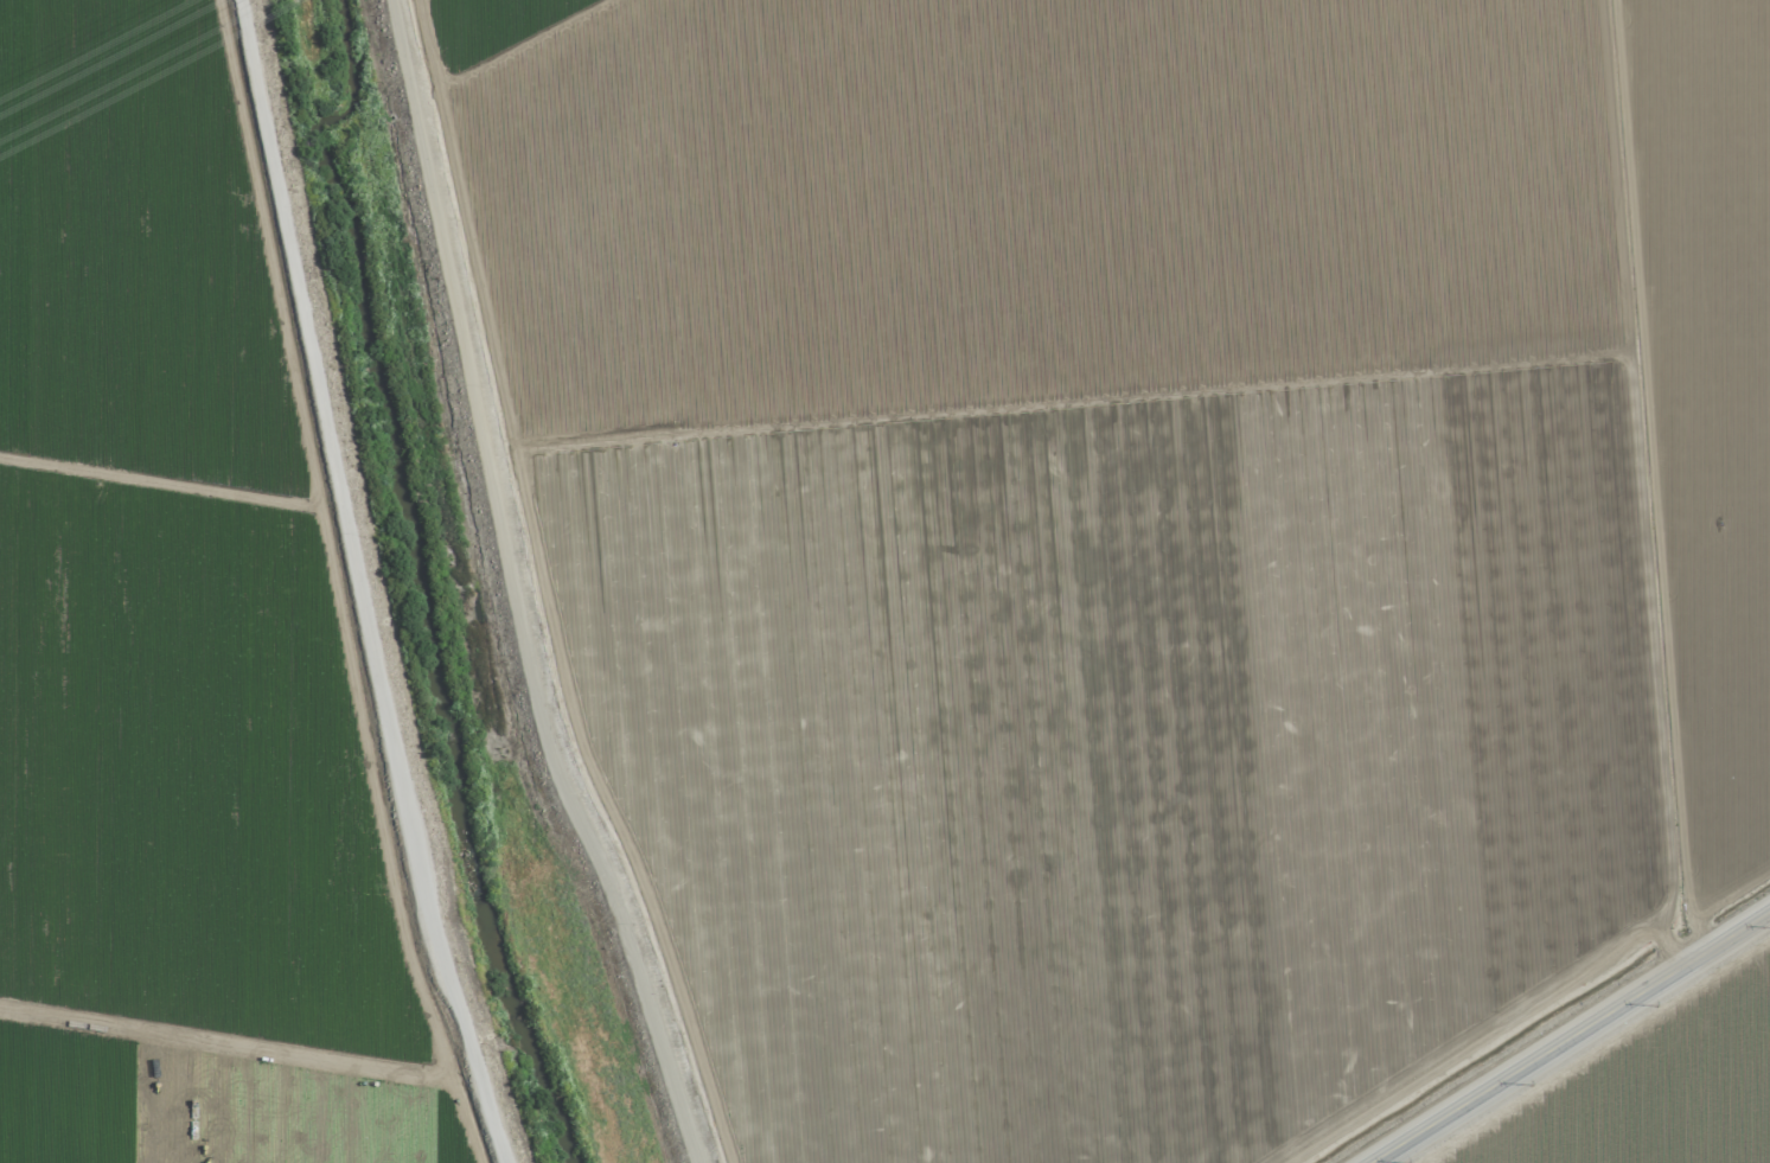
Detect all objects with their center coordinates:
crop: (1118, 536)
crop: (196, 644)
road: (1571, 1036)
crop: (1650, 1088)

